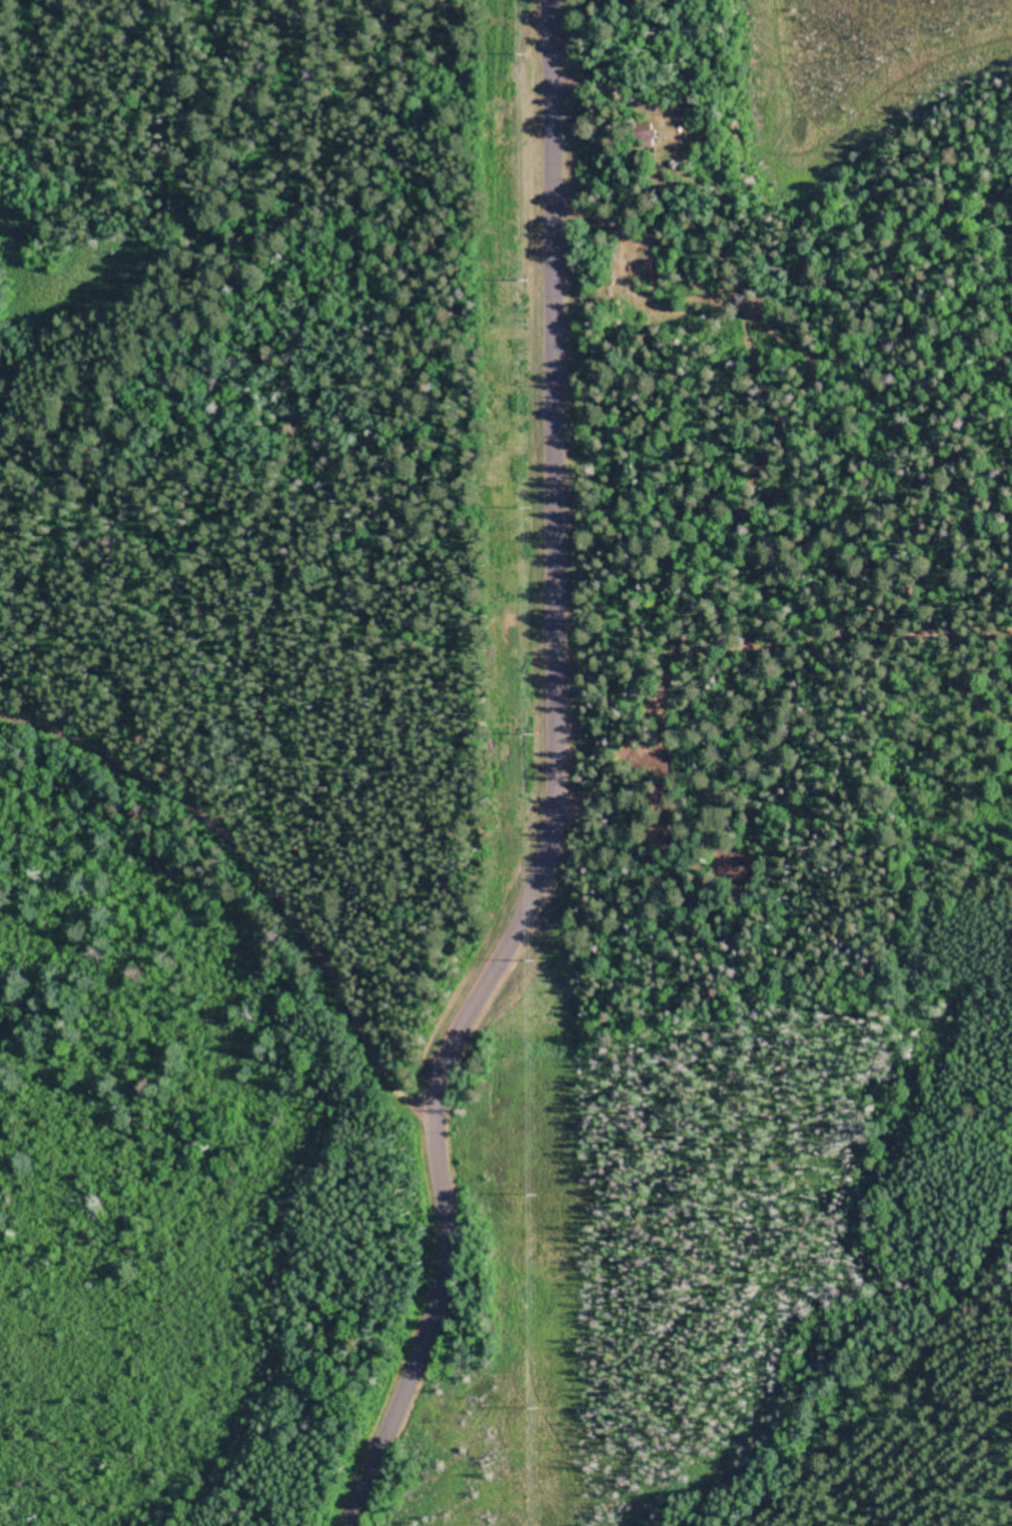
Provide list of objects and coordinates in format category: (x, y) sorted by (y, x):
road: (527, 406)
road: (751, 451)
building: (669, 777)
road: (201, 864)
road: (461, 1150)

